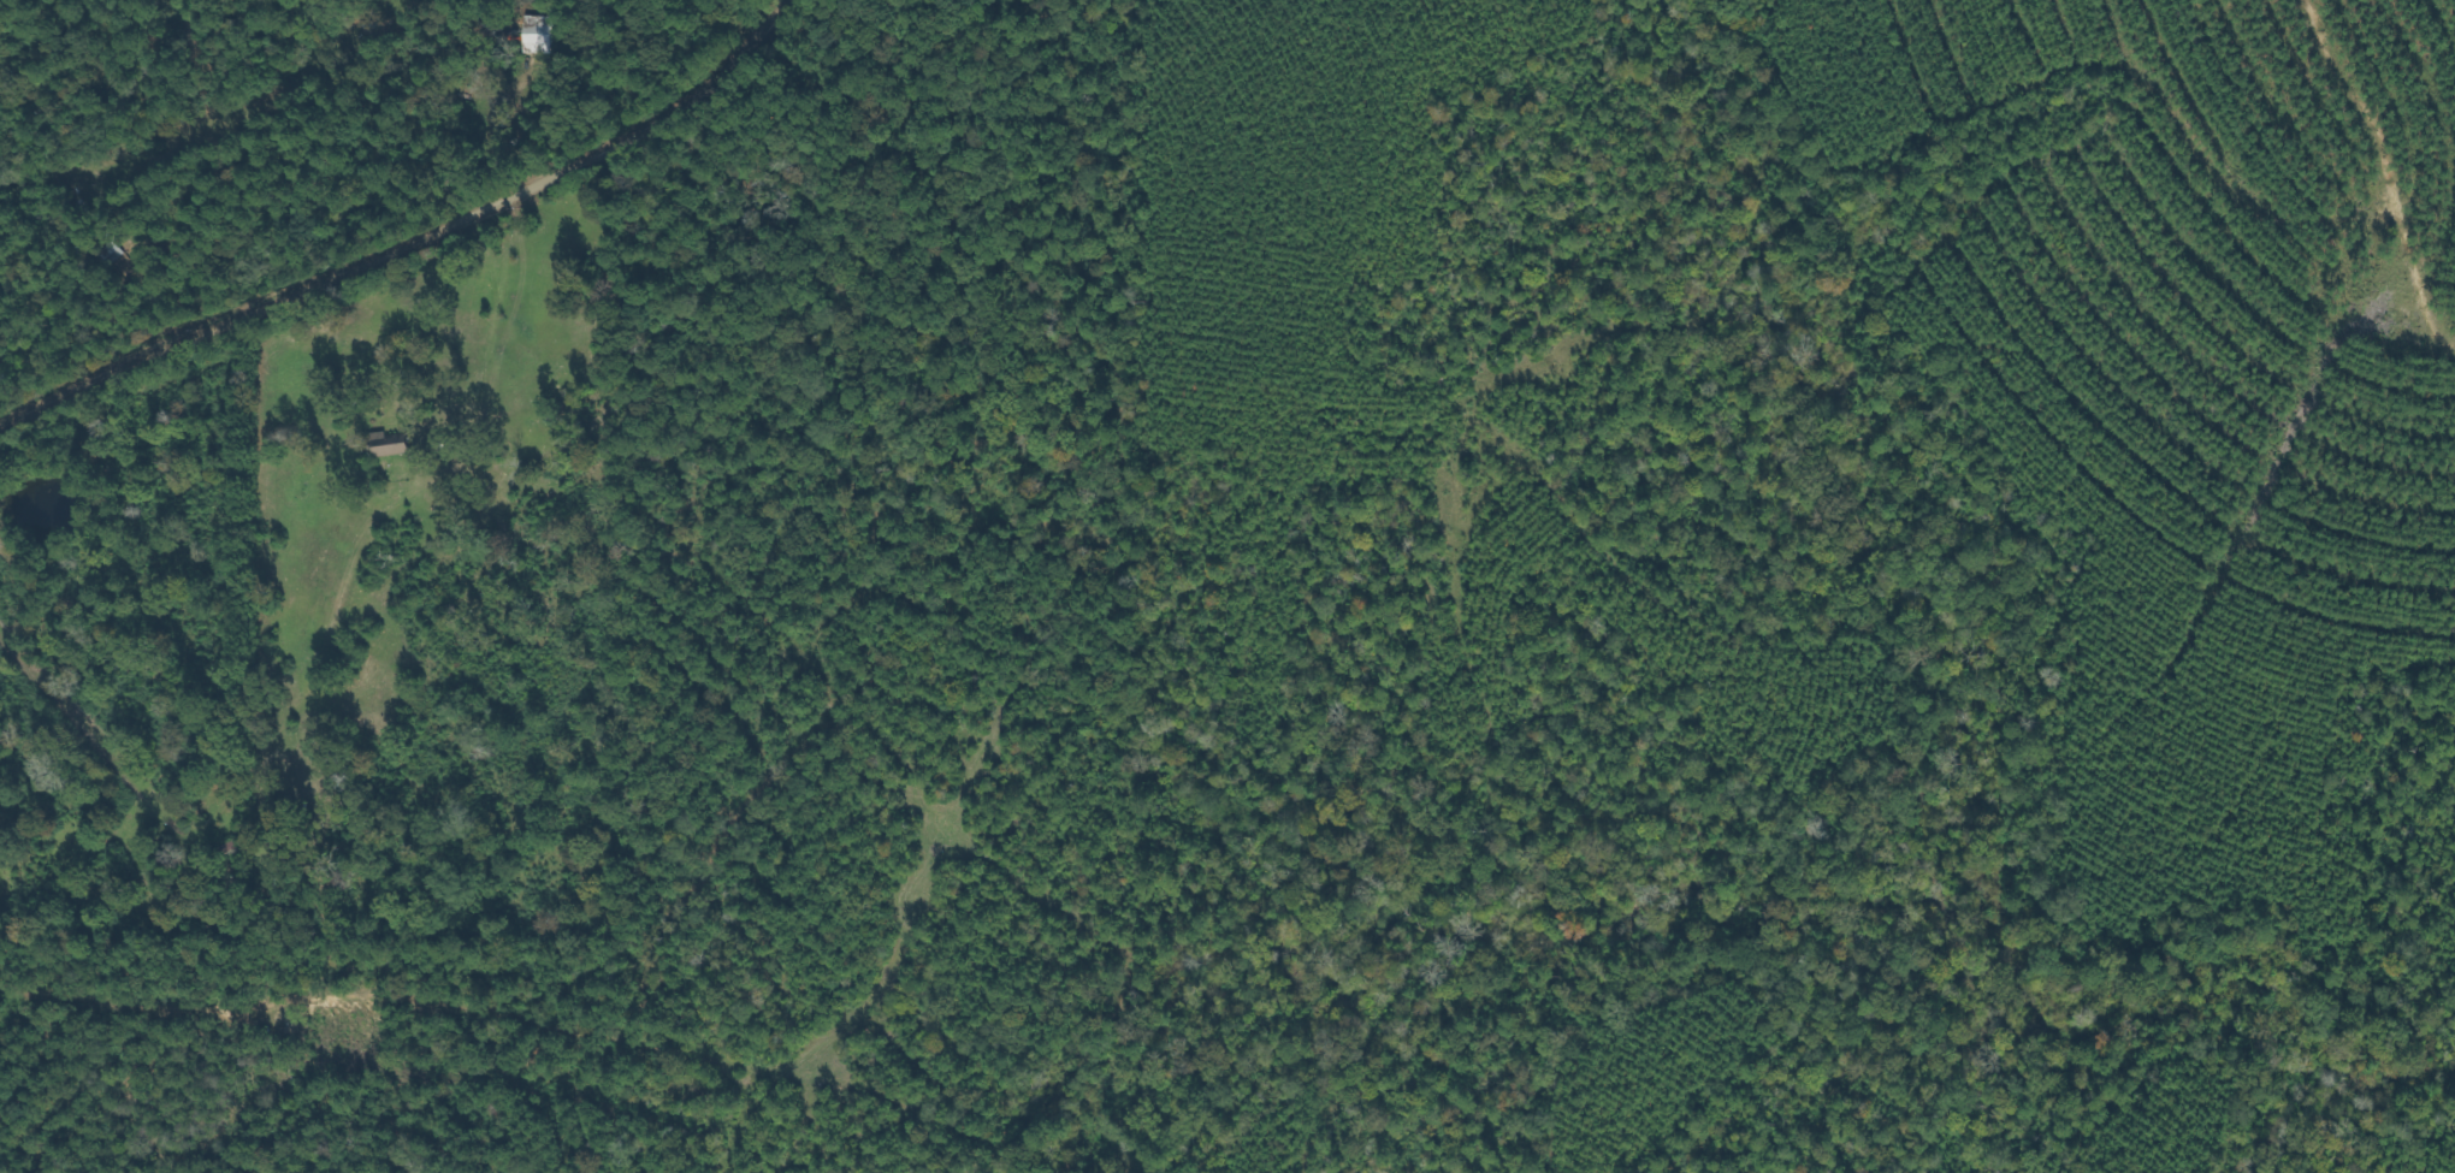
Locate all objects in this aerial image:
road: (389, 249)
building: (96, 251)
building: (385, 443)
road: (379, 550)
building: (342, 657)
building: (219, 849)

